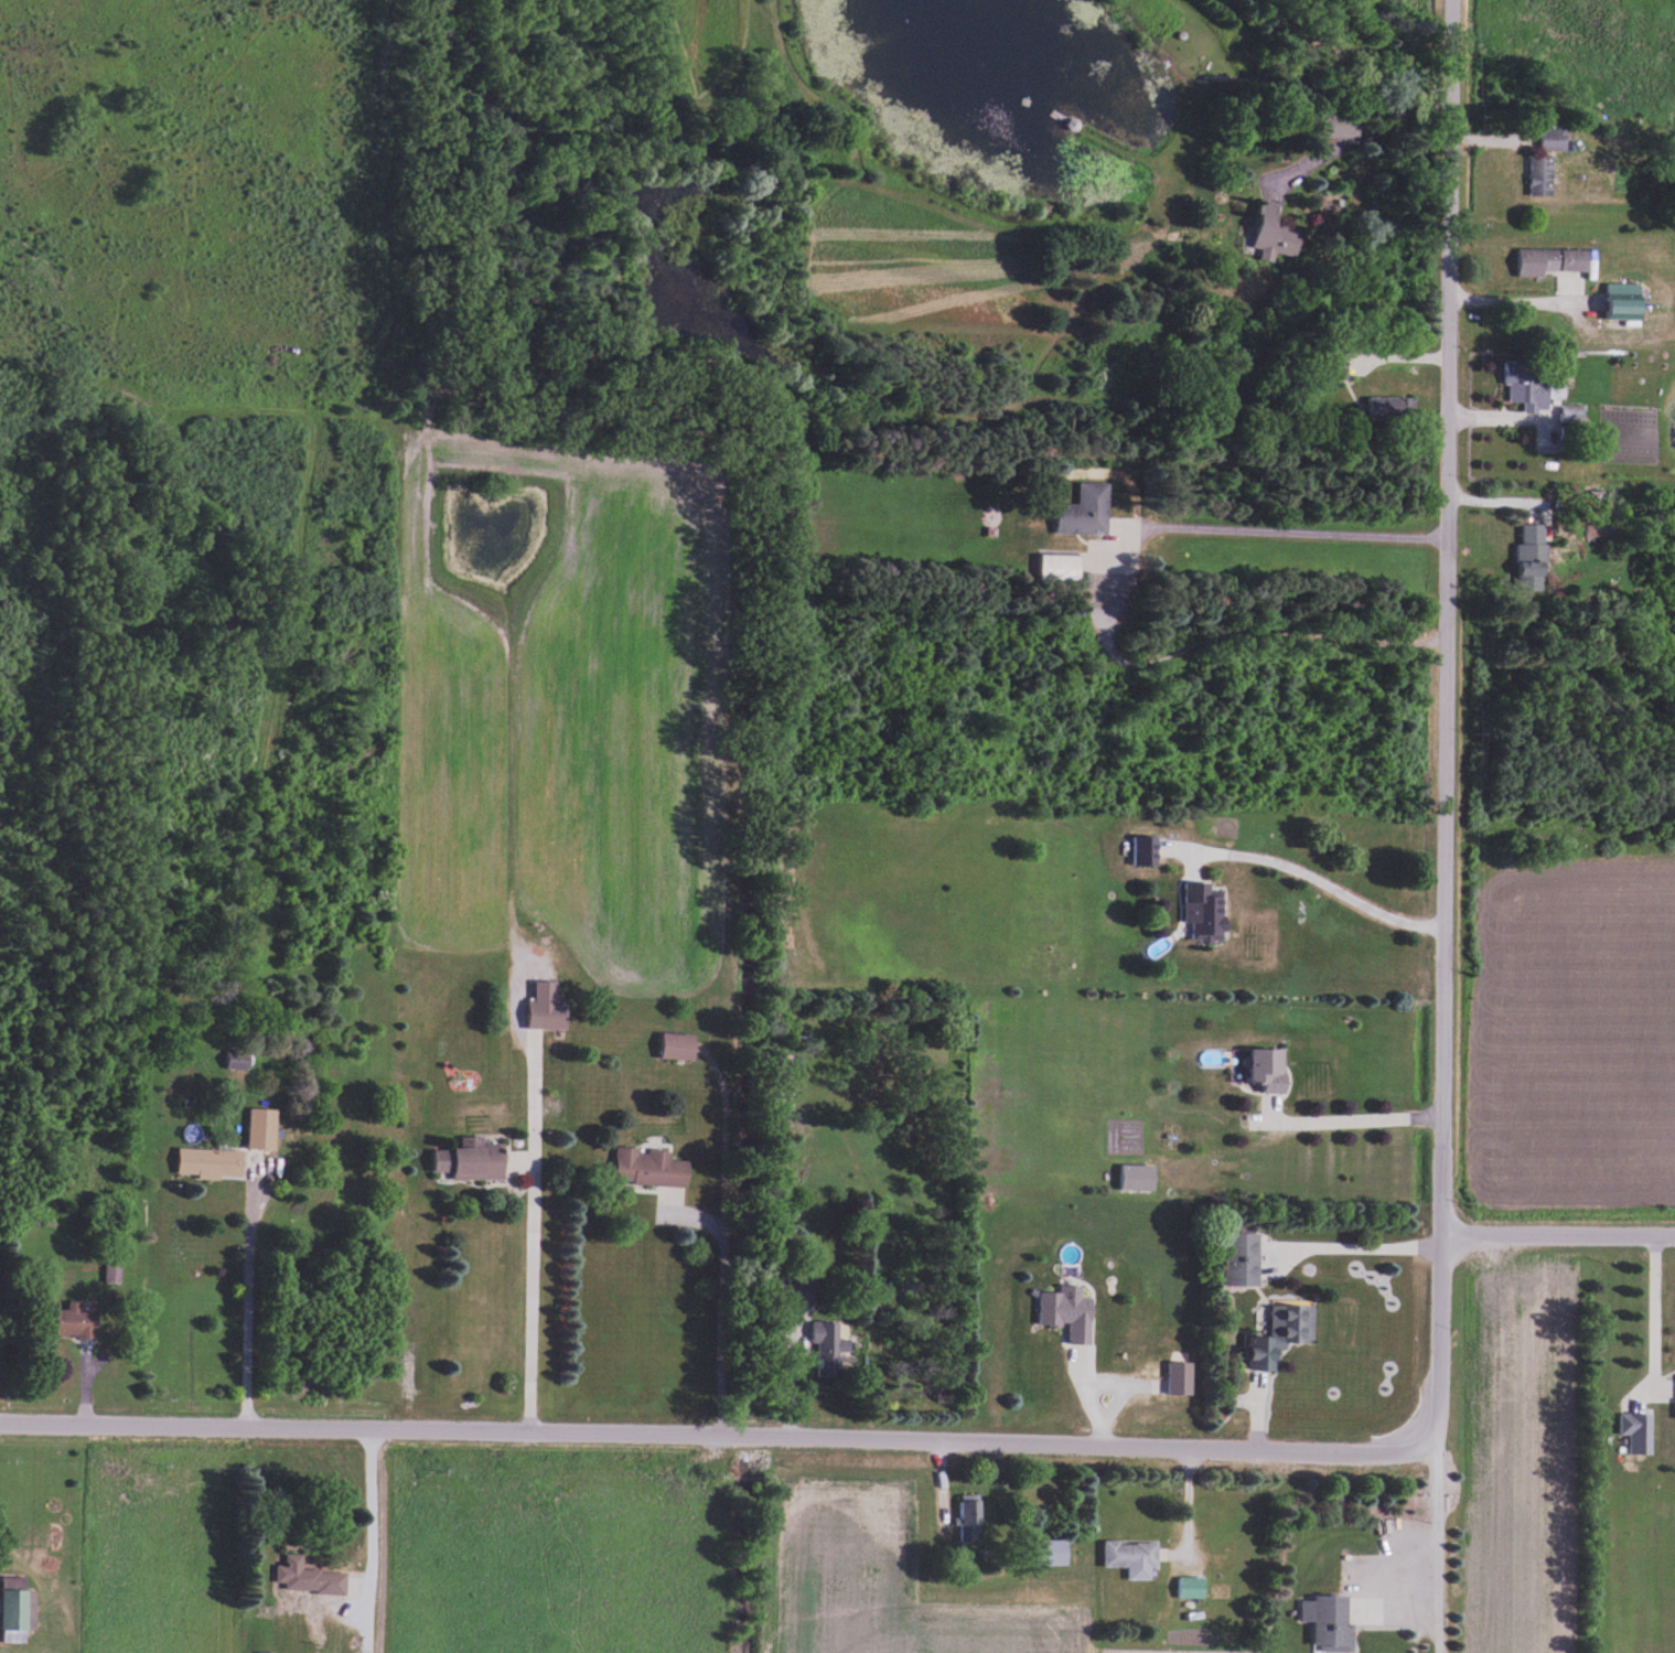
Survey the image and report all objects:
building: (1336, 125)
building: (1554, 140)
building: (1543, 175)
building: (1278, 232)
building: (1554, 261)
building: (1628, 301)
building: (1338, 365)
building: (1529, 384)
building: (1392, 407)
building: (1087, 511)
road: (1279, 526)
building: (1535, 549)
building: (1062, 565)
road: (721, 614)
road: (1199, 631)
crop: (577, 694)
road: (488, 809)
road: (1442, 826)
building: (1147, 851)
road: (1318, 879)
building: (1206, 911)
building: (528, 1002)
building: (549, 1015)
building: (657, 1042)
building: (680, 1045)
building: (240, 1061)
building: (1271, 1070)
road: (1345, 1116)
road: (717, 1125)
building: (262, 1128)
building: (481, 1159)
building: (443, 1160)
building: (212, 1162)
building: (631, 1169)
building: (1138, 1178)
road: (648, 1200)
road: (512, 1228)
road: (1557, 1237)
road: (1360, 1244)
building: (1244, 1259)
building: (114, 1273)
road: (710, 1297)
road: (239, 1305)
road: (1649, 1305)
building: (1070, 1312)
building: (78, 1321)
building: (1282, 1335)
building: (830, 1349)
building: (1181, 1378)
road: (64, 1382)
road: (1123, 1383)
road: (1087, 1405)
building: (1639, 1432)
road: (721, 1439)
road: (922, 1479)
road: (1181, 1499)
building: (970, 1520)
road: (347, 1542)
crop: (547, 1543)
road: (730, 1546)
crop: (136, 1548)
building: (1052, 1554)
building: (1132, 1555)
building: (311, 1578)
building: (1193, 1588)
crop: (877, 1589)
building: (17, 1610)
building: (1331, 1621)

